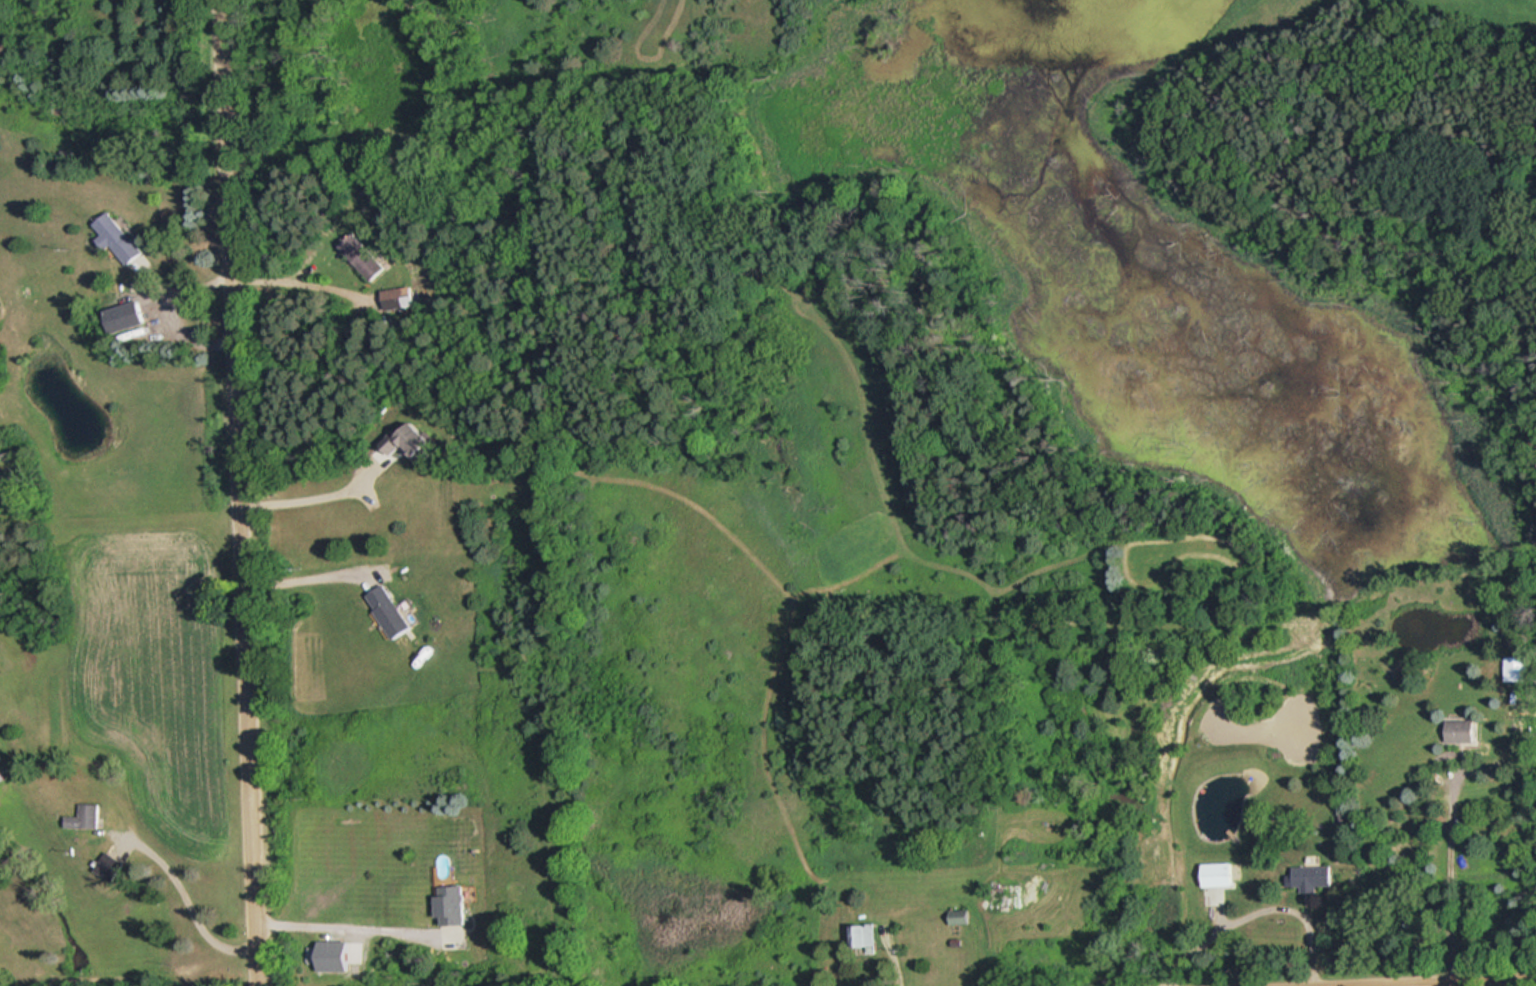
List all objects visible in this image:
building: (121, 237)
building: (366, 255)
road: (284, 276)
building: (398, 297)
road: (170, 307)
building: (131, 315)
building: (412, 439)
road: (241, 492)
road: (316, 495)
road: (307, 576)
building: (392, 609)
building: (1517, 667)
building: (1464, 730)
building: (2, 774)
building: (88, 816)
building: (113, 864)
building: (1219, 873)
building: (1314, 875)
road: (1451, 875)
building: (1014, 896)
road: (191, 903)
building: (455, 904)
road: (1253, 907)
building: (963, 916)
road: (353, 924)
building: (870, 934)
road: (1399, 980)

